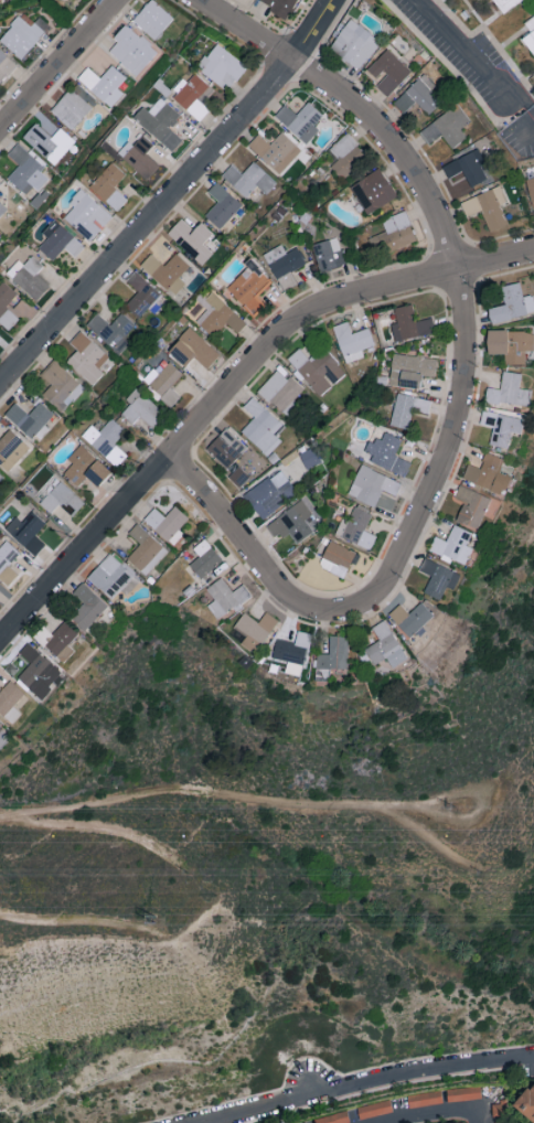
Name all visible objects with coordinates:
building: (278, 6)
building: (508, 6)
building: (152, 19)
road: (247, 30)
building: (22, 35)
building: (531, 40)
building: (354, 44)
building: (131, 50)
parking lot: (464, 58)
road: (473, 62)
road: (57, 64)
building: (4, 65)
building: (221, 66)
building: (387, 72)
building: (533, 78)
building: (103, 84)
building: (192, 96)
building: (418, 96)
building: (71, 108)
building: (300, 121)
building: (160, 122)
building: (447, 127)
parking lot: (521, 138)
building: (47, 139)
building: (276, 151)
building: (345, 156)
building: (138, 157)
building: (468, 167)
building: (25, 171)
building: (248, 180)
building: (0, 184)
building: (109, 186)
building: (373, 191)
building: (531, 192)
road: (172, 197)
building: (221, 206)
building: (488, 207)
building: (2, 208)
building: (86, 215)
building: (393, 232)
building: (193, 240)
building: (58, 242)
building: (328, 256)
building: (284, 265)
building: (167, 271)
building: (29, 277)
building: (249, 290)
building: (141, 296)
road: (461, 299)
building: (6, 300)
building: (512, 303)
building: (216, 314)
building: (409, 324)
building: (111, 331)
building: (352, 341)
building: (511, 344)
building: (193, 353)
building: (87, 357)
building: (317, 370)
building: (409, 370)
building: (163, 381)
building: (61, 385)
road: (229, 388)
building: (510, 391)
building: (280, 393)
building: (140, 408)
building: (407, 409)
building: (30, 419)
building: (261, 428)
building: (501, 428)
building: (106, 441)
building: (225, 448)
building: (11, 449)
building: (386, 454)
building: (309, 458)
building: (85, 468)
building: (236, 473)
building: (488, 474)
building: (0, 475)
building: (371, 485)
building: (269, 493)
building: (62, 500)
building: (471, 506)
building: (292, 523)
building: (167, 524)
building: (359, 530)
building: (26, 532)
building: (453, 546)
building: (145, 550)
building: (204, 559)
building: (337, 559)
building: (7, 563)
road: (261, 570)
building: (111, 578)
building: (439, 578)
building: (225, 597)
building: (87, 608)
building: (410, 618)
building: (255, 630)
building: (60, 641)
building: (385, 648)
building: (291, 653)
building: (332, 657)
building: (38, 672)
building: (10, 702)
building: (1, 730)
road: (216, 792)
road: (482, 814)
road: (103, 830)
road: (420, 833)
road: (73, 918)
road: (373, 1084)
building: (462, 1093)
building: (526, 1102)
building: (499, 1111)
road: (444, 1116)
building: (332, 1117)
building: (452, 1122)

